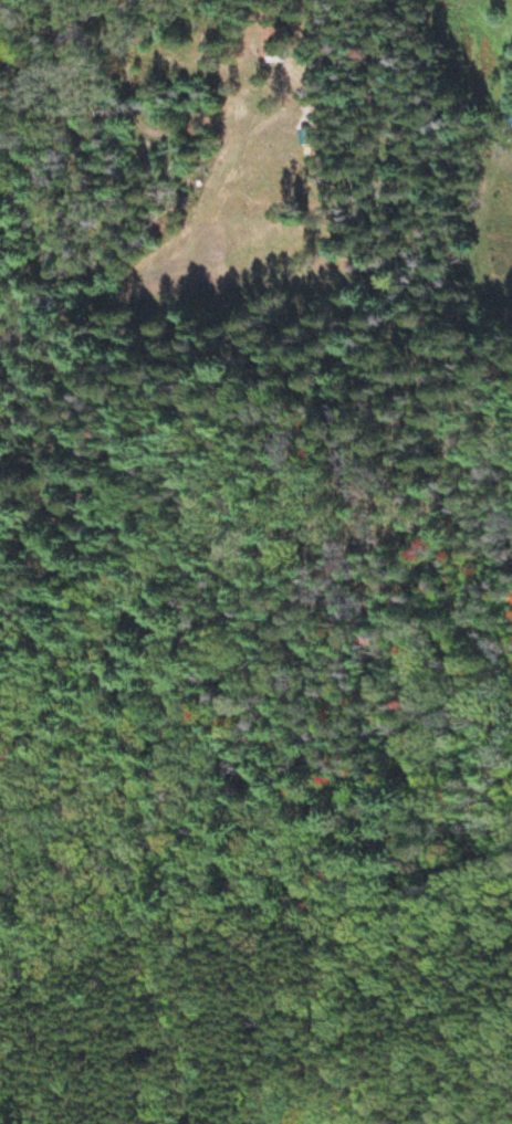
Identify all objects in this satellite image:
building: (279, 39)

